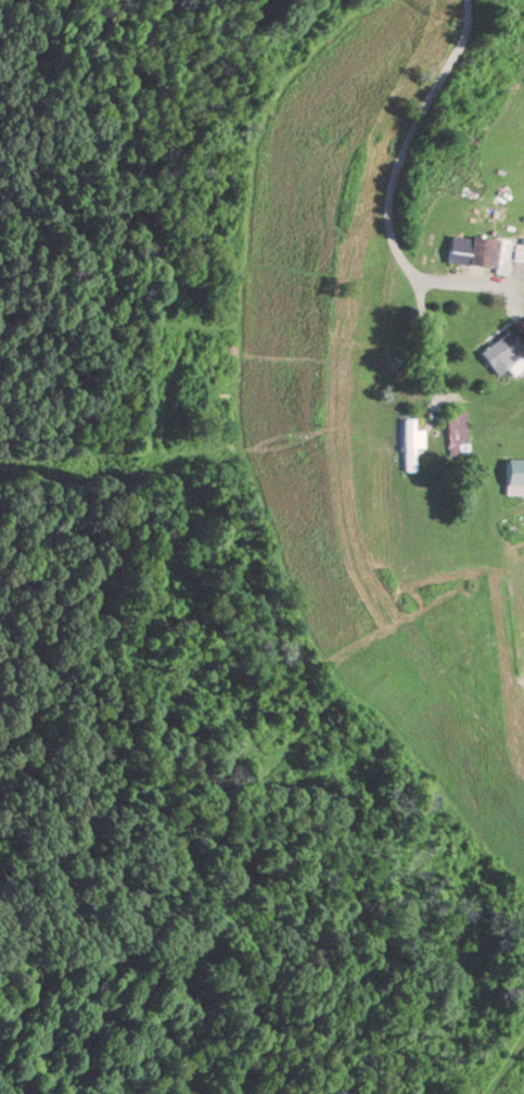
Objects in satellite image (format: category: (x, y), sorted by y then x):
road: (394, 177)
building: (507, 209)
building: (473, 250)
building: (361, 310)
building: (499, 351)
building: (457, 429)
building: (411, 444)
building: (513, 488)

